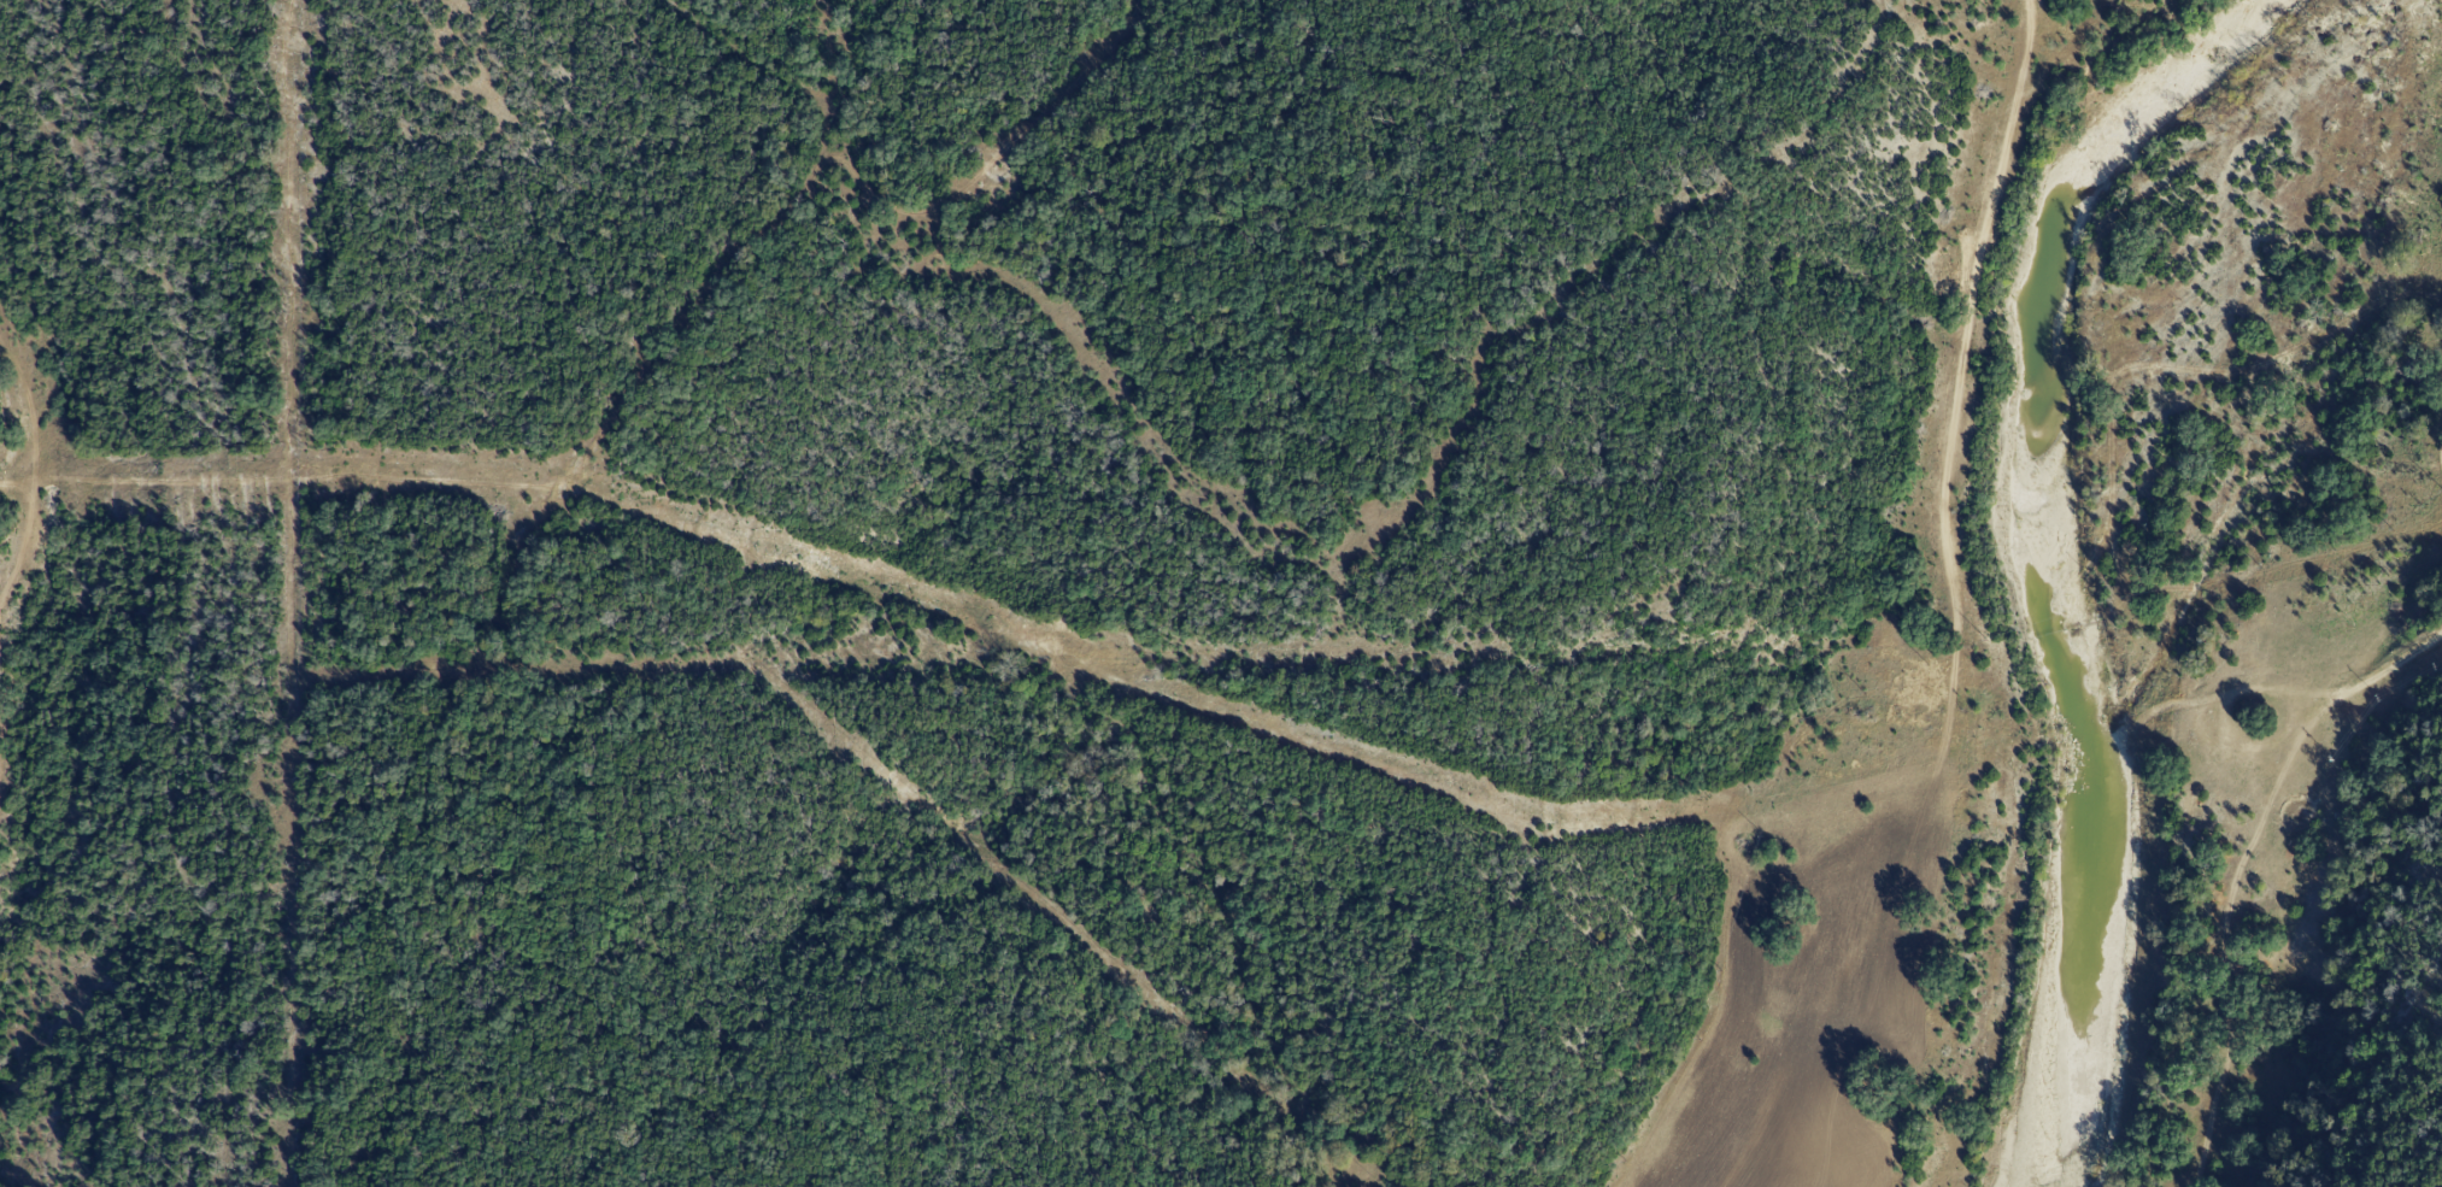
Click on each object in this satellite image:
river: (2010, 545)

